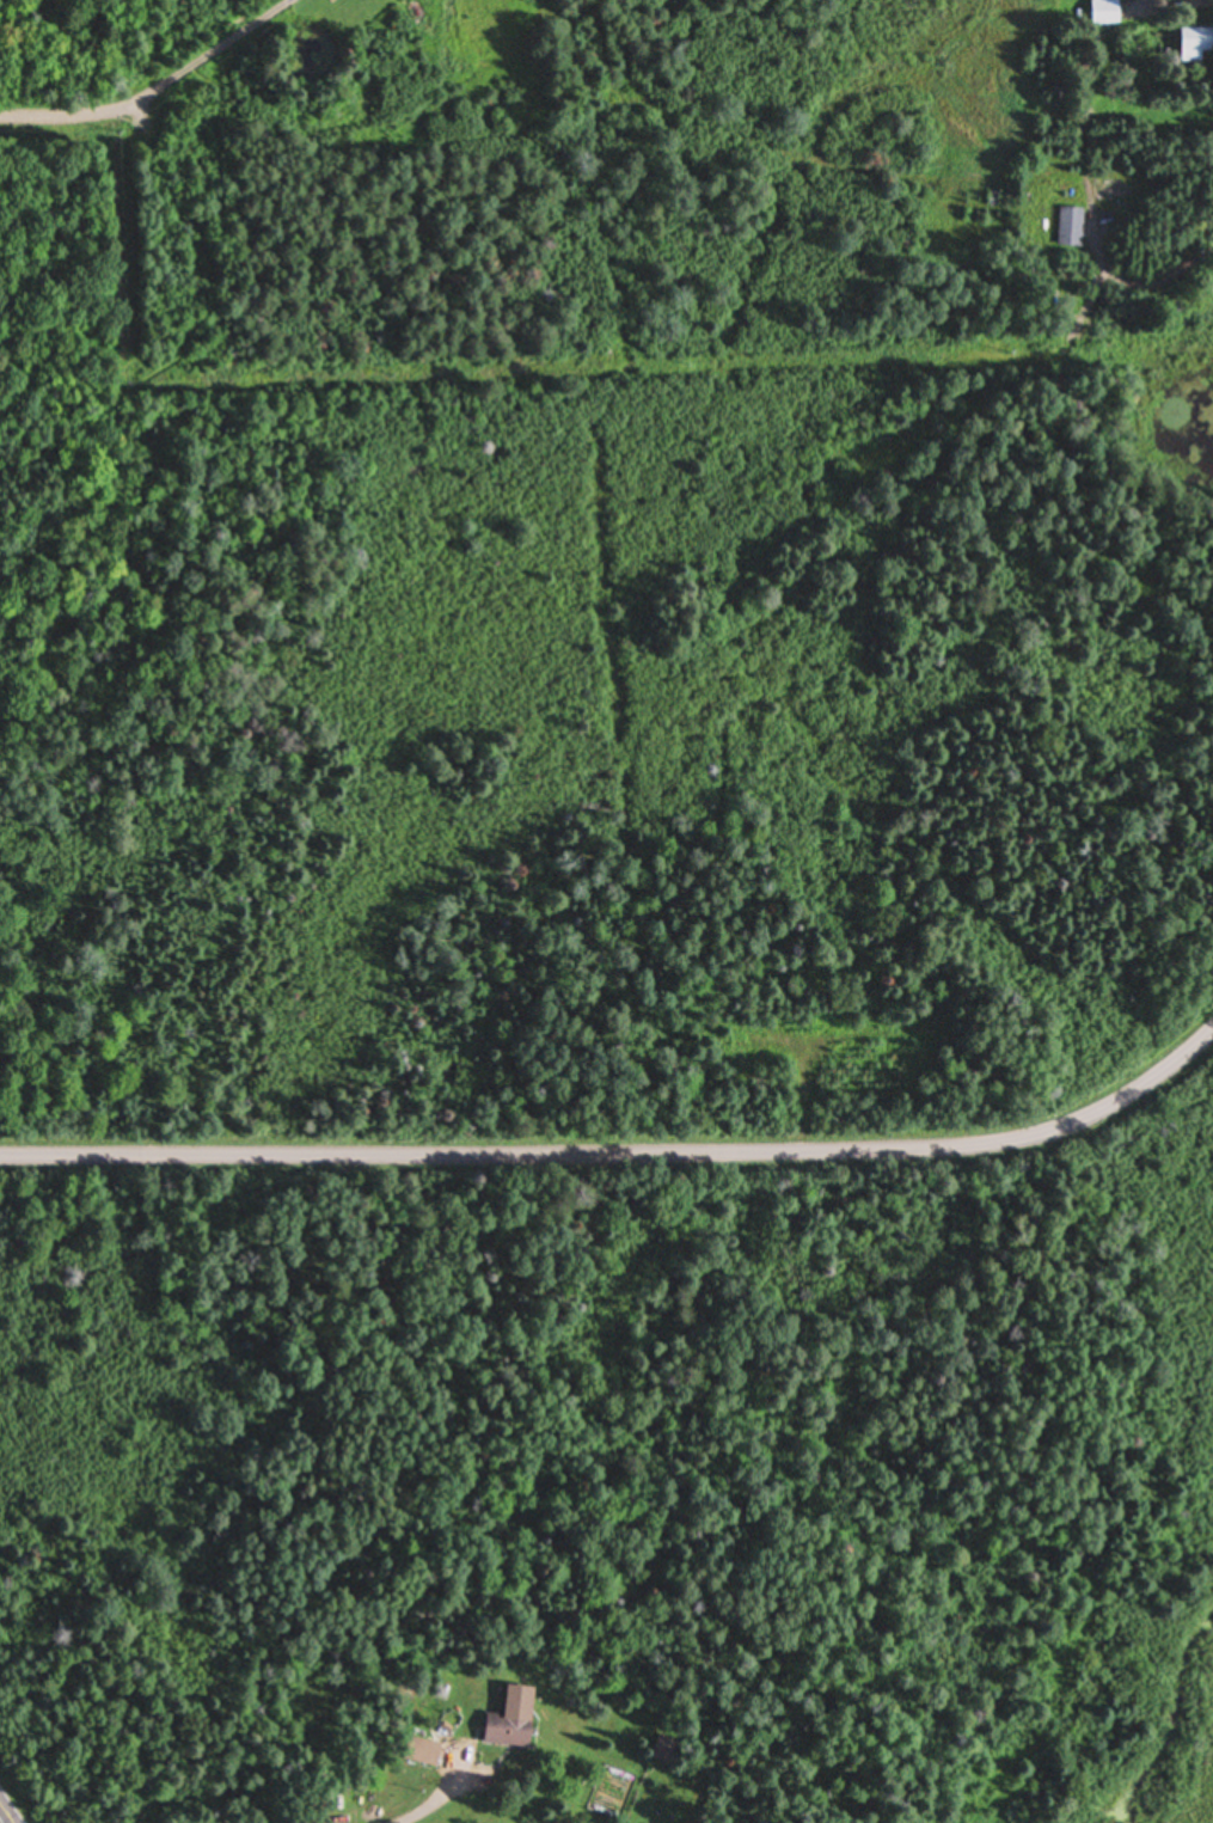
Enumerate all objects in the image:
building: (1104, 12)
building: (1195, 44)
road: (157, 97)
building: (1070, 227)
road: (620, 1150)
building: (509, 1719)
building: (419, 1751)
road: (8, 1810)

